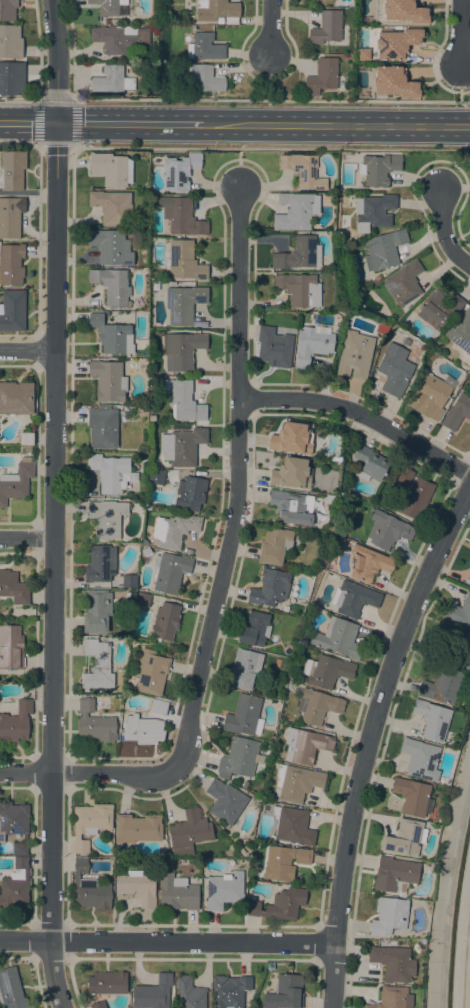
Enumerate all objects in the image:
building: (108, 6)
building: (7, 10)
building: (217, 11)
building: (404, 11)
building: (183, 16)
building: (107, 21)
building: (114, 21)
building: (220, 21)
building: (327, 27)
road: (269, 28)
road: (460, 35)
building: (122, 39)
building: (10, 42)
building: (396, 43)
building: (204, 47)
building: (322, 76)
building: (11, 78)
building: (205, 79)
road: (268, 79)
building: (112, 80)
building: (394, 82)
road: (460, 86)
road: (19, 99)
road: (170, 99)
road: (368, 102)
road: (28, 123)
traffic signals: (57, 123)
road: (131, 123)
road: (338, 126)
road: (20, 143)
road: (39, 145)
road: (270, 148)
road: (239, 168)
building: (111, 169)
building: (378, 169)
building: (12, 170)
building: (179, 171)
building: (303, 171)
building: (112, 206)
building: (296, 211)
building: (373, 211)
building: (10, 216)
building: (181, 216)
road: (442, 229)
building: (111, 247)
building: (383, 249)
building: (298, 254)
building: (184, 261)
building: (11, 264)
building: (377, 277)
building: (403, 283)
building: (112, 285)
building: (299, 289)
building: (184, 303)
building: (438, 308)
building: (12, 310)
building: (382, 328)
building: (461, 332)
building: (112, 335)
building: (312, 344)
building: (274, 348)
building: (182, 350)
road: (28, 352)
building: (355, 355)
building: (395, 370)
building: (108, 380)
building: (429, 397)
building: (16, 398)
building: (183, 400)
building: (457, 412)
road: (361, 414)
building: (151, 418)
building: (102, 427)
building: (290, 438)
building: (26, 439)
building: (183, 446)
building: (28, 448)
building: (143, 456)
building: (370, 463)
building: (110, 472)
building: (292, 474)
building: (404, 475)
building: (156, 477)
building: (16, 482)
building: (190, 494)
building: (417, 498)
road: (56, 504)
building: (291, 508)
building: (107, 518)
building: (174, 530)
building: (388, 530)
road: (28, 539)
road: (228, 542)
building: (275, 546)
building: (146, 552)
building: (469, 562)
building: (100, 563)
building: (368, 563)
building: (170, 572)
building: (129, 580)
building: (13, 588)
building: (271, 588)
building: (143, 599)
building: (354, 599)
building: (96, 611)
building: (459, 612)
building: (165, 621)
building: (255, 629)
building: (338, 638)
building: (11, 647)
building: (456, 647)
building: (98, 665)
building: (244, 669)
building: (327, 671)
building: (151, 673)
building: (469, 683)
building: (442, 686)
building: (318, 706)
building: (159, 708)
building: (244, 716)
building: (432, 720)
building: (16, 723)
building: (95, 724)
building: (142, 730)
road: (369, 739)
building: (305, 745)
building: (238, 758)
building: (421, 759)
road: (26, 773)
building: (297, 783)
building: (413, 797)
building: (226, 802)
building: (90, 824)
building: (14, 825)
building: (293, 826)
building: (138, 828)
building: (189, 832)
building: (405, 838)
building: (242, 853)
building: (284, 862)
building: (394, 873)
building: (15, 885)
building: (138, 887)
building: (89, 889)
building: (224, 890)
building: (177, 893)
building: (286, 904)
building: (253, 908)
building: (389, 916)
road: (24, 940)
road: (193, 942)
building: (393, 963)
building: (270, 966)
road: (468, 974)
building: (107, 983)
building: (11, 990)
building: (230, 991)
building: (152, 993)
building: (189, 993)
building: (285, 993)
building: (393, 998)
building: (97, 1005)
building: (254, 1005)

